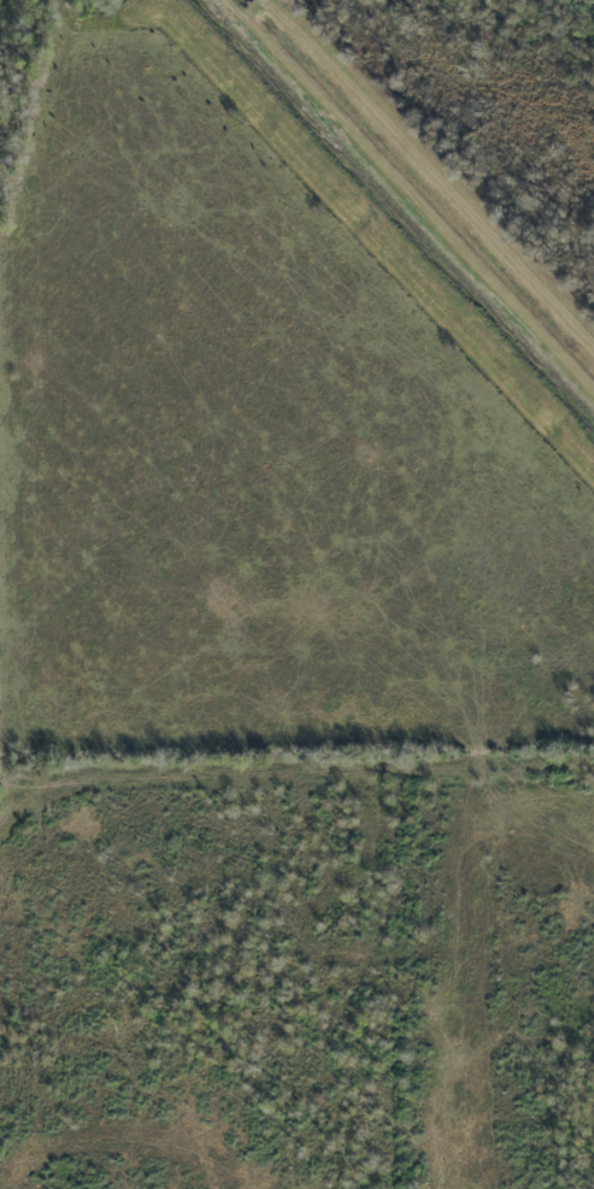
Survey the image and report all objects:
road: (430, 171)
road: (296, 784)

